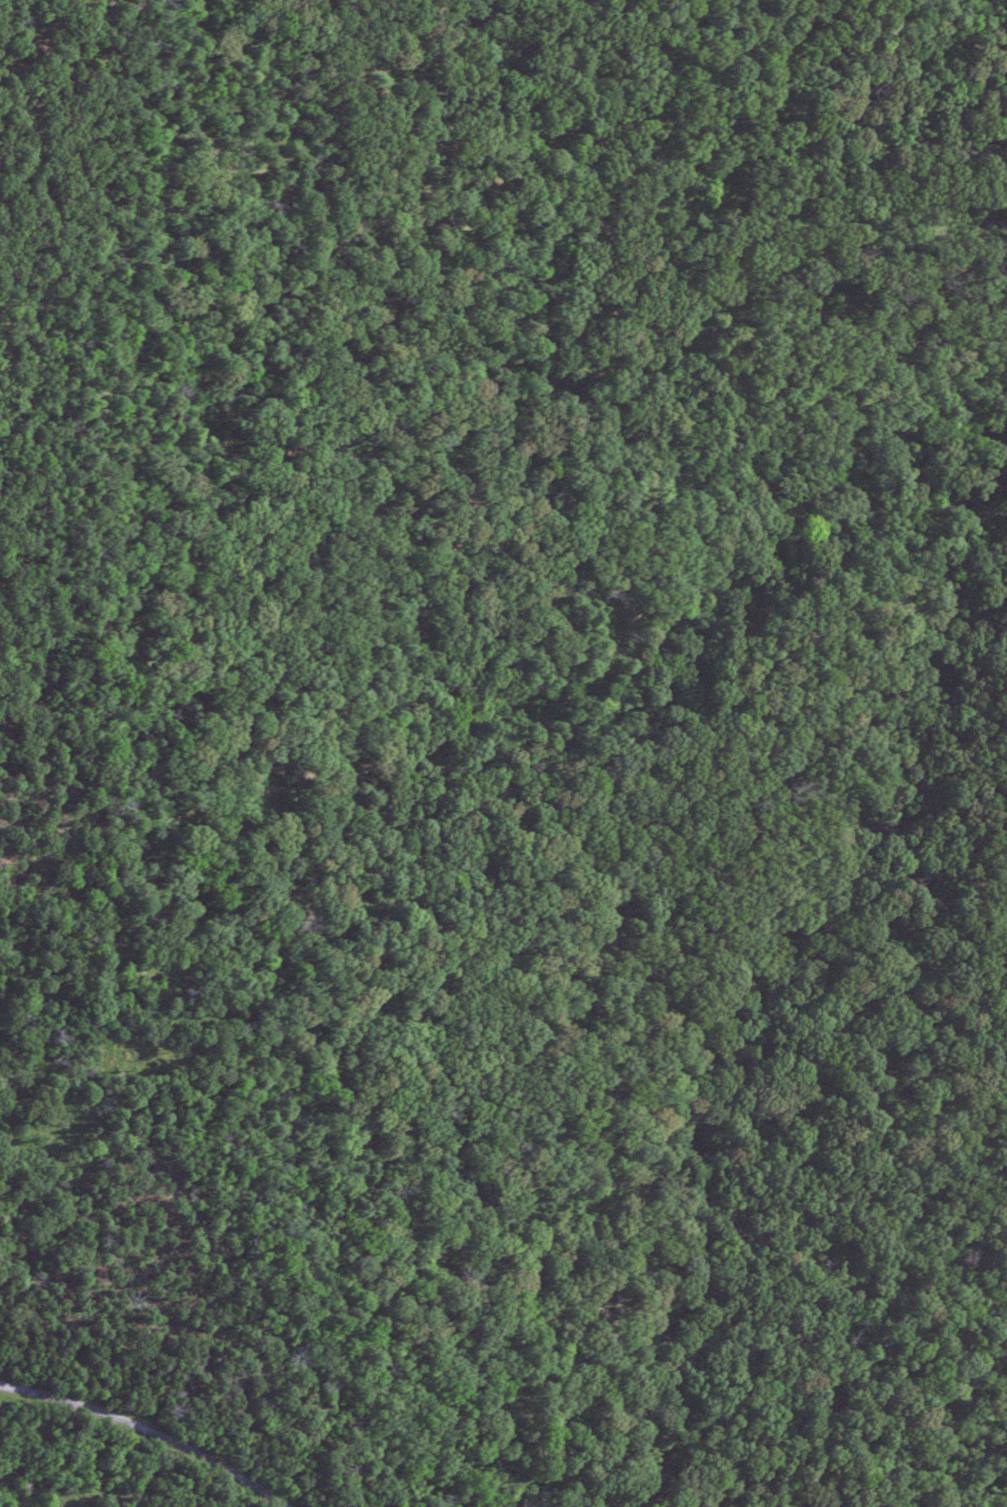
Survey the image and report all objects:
road: (150, 1430)

